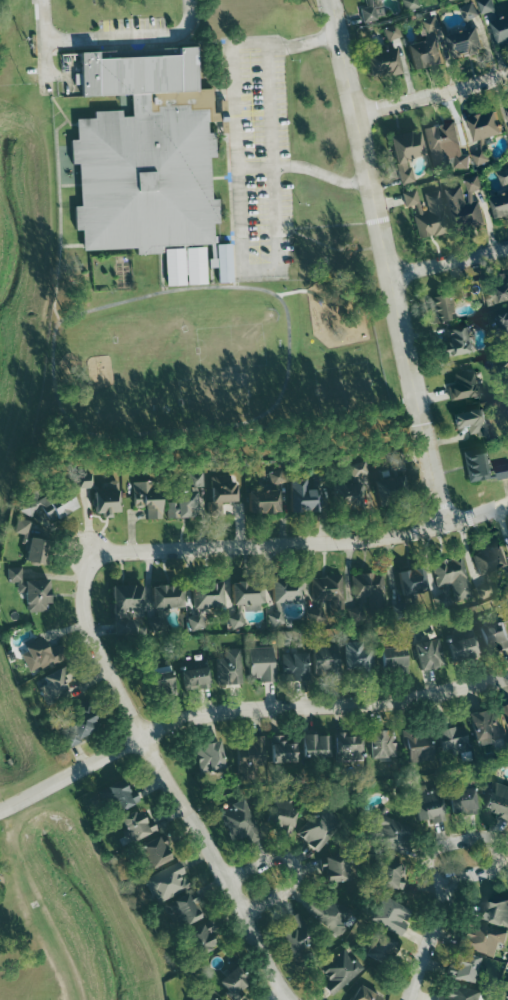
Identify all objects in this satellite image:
building: (413, 4)
building: (490, 6)
building: (472, 11)
building: (368, 14)
road: (331, 18)
building: (434, 26)
building: (500, 30)
building: (391, 33)
road: (113, 36)
building: (464, 42)
building: (425, 54)
building: (382, 64)
road: (430, 95)
road: (272, 104)
building: (506, 113)
building: (484, 125)
building: (440, 144)
building: (406, 154)
building: (479, 157)
road: (257, 165)
building: (145, 180)
building: (501, 196)
building: (463, 204)
building: (426, 213)
road: (242, 223)
road: (449, 262)
building: (224, 263)
building: (185, 266)
road: (390, 281)
building: (500, 289)
building: (444, 304)
building: (505, 325)
building: (455, 342)
building: (462, 386)
building: (470, 422)
building: (395, 461)
building: (480, 465)
building: (356, 469)
building: (502, 470)
building: (85, 480)
building: (390, 490)
building: (222, 491)
building: (346, 495)
building: (302, 496)
building: (188, 497)
building: (147, 499)
building: (105, 501)
building: (264, 501)
building: (51, 503)
building: (22, 527)
building: (507, 539)
road: (341, 545)
building: (37, 550)
building: (490, 559)
building: (451, 579)
building: (412, 581)
building: (31, 590)
building: (287, 590)
building: (328, 592)
building: (247, 593)
building: (368, 593)
building: (207, 595)
building: (167, 596)
building: (125, 605)
building: (507, 612)
building: (354, 616)
building: (276, 618)
building: (235, 620)
building: (197, 621)
building: (494, 634)
building: (462, 645)
building: (428, 654)
building: (41, 655)
building: (393, 658)
building: (358, 659)
building: (325, 661)
building: (261, 664)
building: (228, 667)
building: (294, 667)
building: (195, 675)
building: (56, 684)
building: (160, 684)
road: (243, 708)
building: (505, 710)
building: (483, 723)
building: (78, 726)
building: (451, 737)
building: (382, 744)
building: (417, 744)
building: (315, 745)
building: (348, 746)
building: (283, 750)
building: (250, 755)
building: (209, 756)
road: (163, 757)
building: (117, 796)
building: (462, 800)
building: (498, 800)
building: (427, 804)
building: (280, 813)
building: (239, 823)
building: (136, 825)
building: (319, 828)
building: (389, 833)
road: (480, 840)
building: (154, 852)
road: (295, 867)
building: (334, 868)
building: (389, 875)
building: (167, 883)
building: (495, 910)
building: (183, 911)
building: (330, 914)
building: (390, 915)
park: (30, 931)
building: (296, 934)
building: (201, 938)
building: (480, 938)
road: (424, 940)
building: (381, 945)
building: (465, 968)
building: (339, 971)
building: (234, 982)
road: (281, 992)
building: (458, 993)
building: (363, 995)
building: (199, 998)
building: (507, 999)

